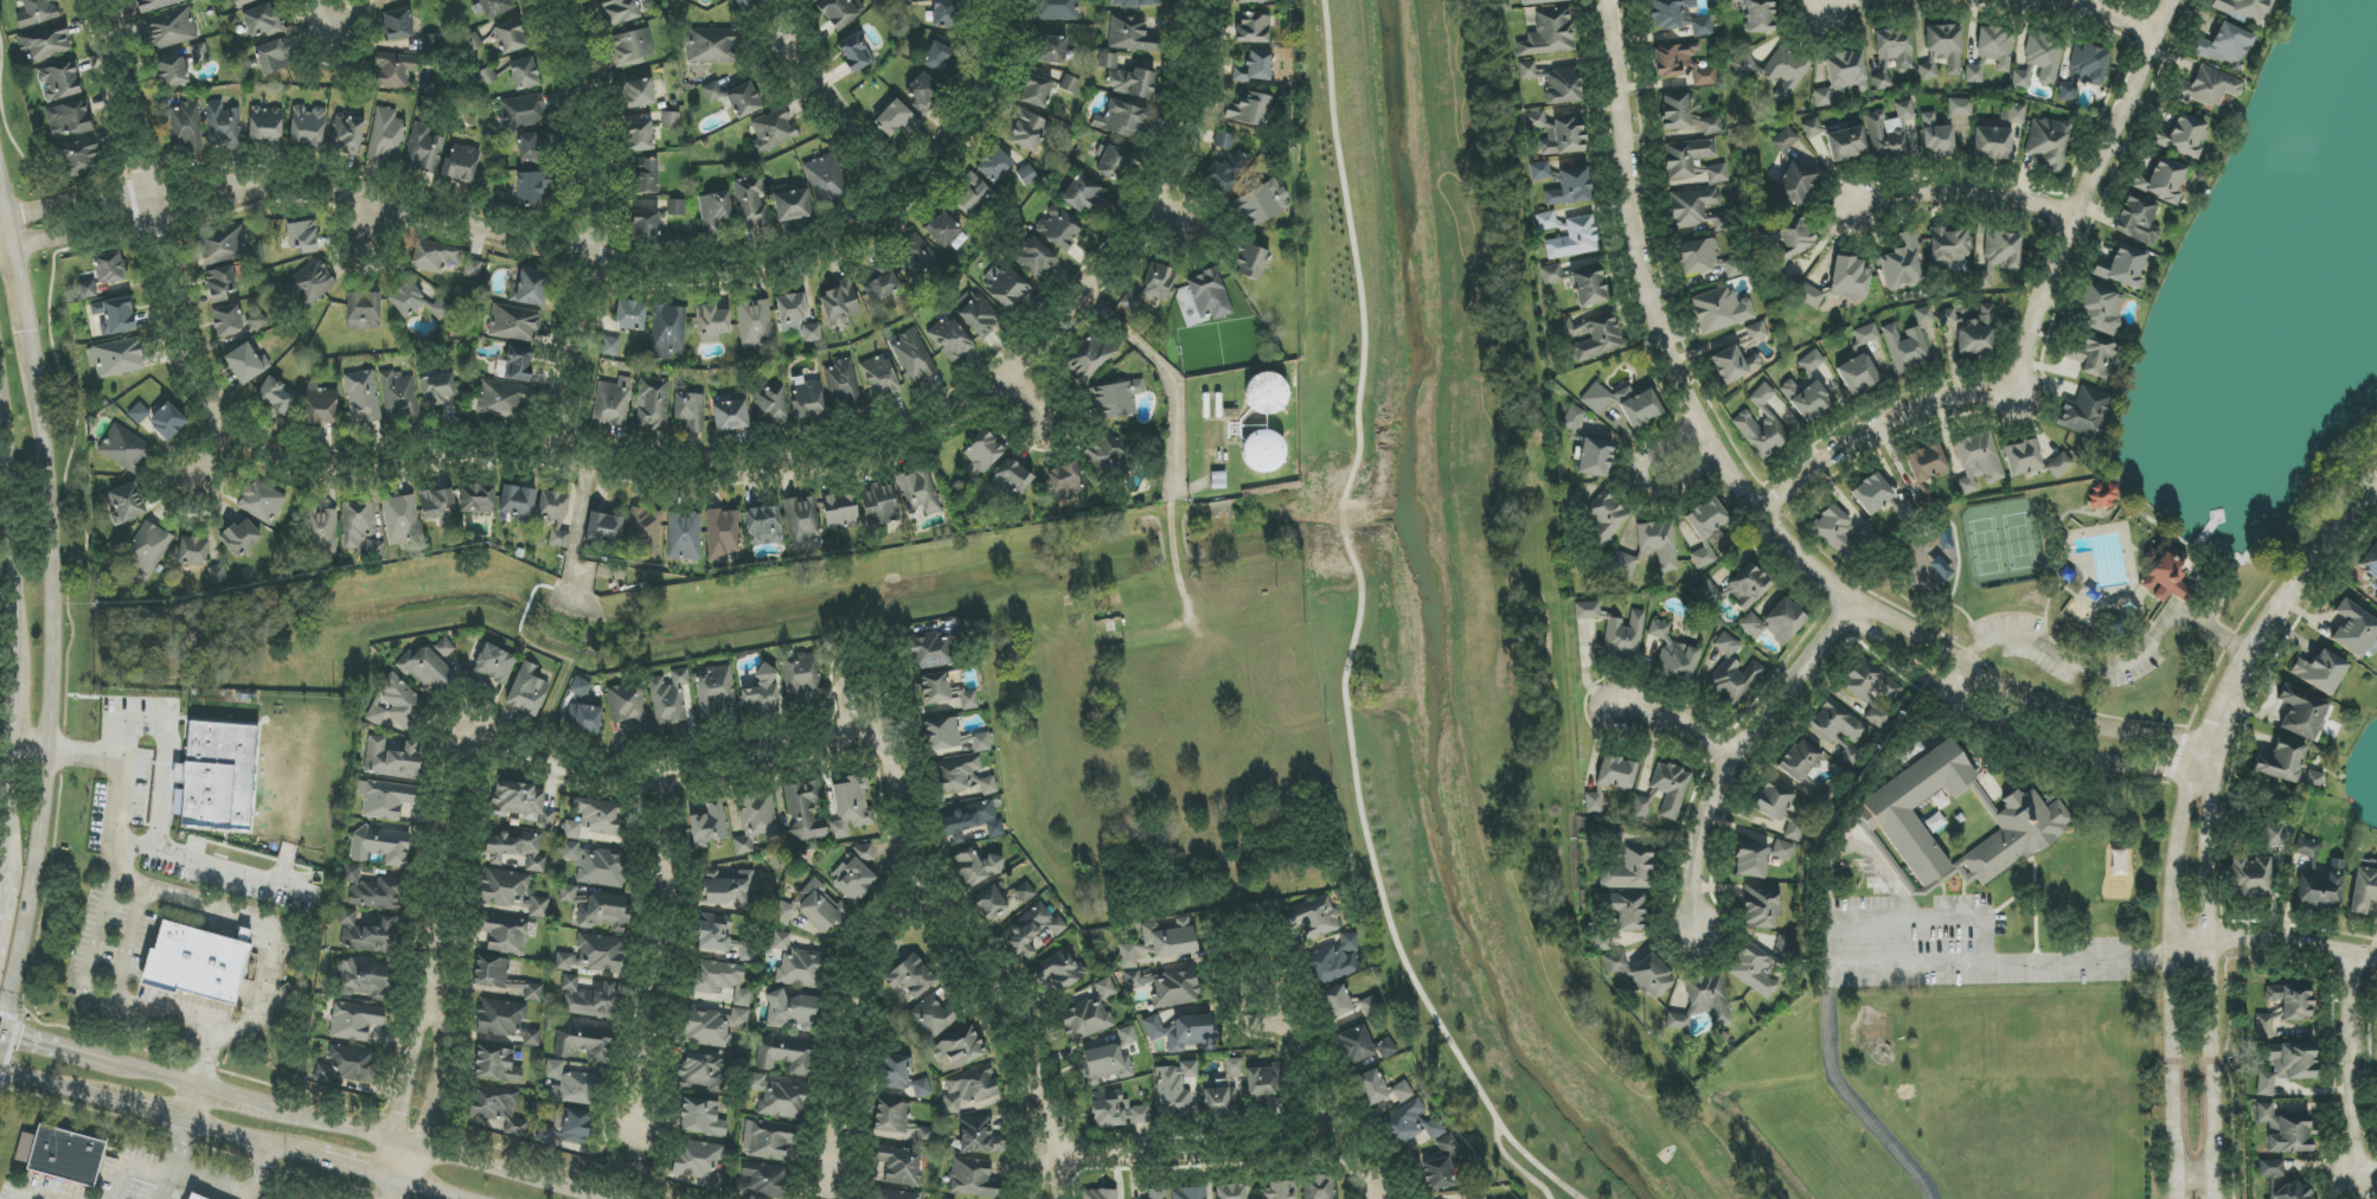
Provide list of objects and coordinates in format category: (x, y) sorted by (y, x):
building: (1254, 1)
building: (1540, 1)
road: (1837, 1)
building: (244, 2)
building: (382, 2)
building: (745, 4)
building: (1136, 4)
building: (158, 5)
building: (494, 7)
building: (1057, 9)
building: (2243, 9)
building: (617, 11)
building: (37, 12)
building: (838, 12)
road: (2099, 12)
building: (946, 13)
building: (1670, 13)
building: (1758, 15)
road: (310, 18)
building: (262, 21)
building: (397, 25)
building: (1702, 26)
building: (171, 28)
building: (1254, 28)
building: (1548, 32)
building: (1130, 34)
building: (511, 37)
building: (45, 41)
building: (431, 43)
building: (1050, 45)
building: (2225, 45)
building: (711, 46)
building: (632, 47)
building: (1895, 47)
building: (1942, 50)
building: (199, 52)
building: (856, 52)
building: (1991, 52)
building: (271, 57)
building: (940, 57)
building: (2044, 57)
building: (1674, 59)
building: (1107, 60)
building: (1255, 66)
building: (392, 70)
building: (1777, 70)
building: (2083, 70)
building: (173, 72)
building: (524, 73)
building: (1704, 76)
building: (1841, 77)
building: (2022, 78)
building: (58, 82)
building: (1132, 83)
building: (1555, 83)
building: (1070, 84)
building: (2206, 88)
building: (1037, 91)
building: (638, 92)
building: (923, 92)
building: (735, 97)
road: (818, 107)
building: (1959, 107)
building: (1249, 109)
building: (523, 111)
building: (1676, 111)
building: (2012, 114)
building: (69, 117)
building: (669, 120)
building: (896, 120)
building: (1121, 120)
building: (179, 121)
building: (265, 124)
building: (222, 126)
building: (307, 126)
building: (1710, 126)
building: (1812, 128)
building: (1959, 128)
building: (773, 129)
building: (1026, 130)
building: (1891, 132)
building: (347, 133)
building: (1557, 134)
building: (386, 135)
building: (639, 136)
building: (2183, 136)
building: (1936, 137)
building: (1224, 140)
building: (1785, 140)
building: (1846, 143)
building: (1992, 143)
building: (2049, 143)
building: (531, 147)
building: (423, 150)
building: (78, 159)
building: (461, 162)
building: (1111, 162)
building: (1692, 162)
building: (994, 165)
building: (1543, 172)
building: (1224, 174)
building: (643, 175)
building: (827, 179)
building: (2161, 180)
building: (1796, 182)
building: (532, 187)
road: (8, 188)
building: (1570, 188)
road: (1960, 188)
building: (969, 194)
building: (1084, 194)
building: (750, 203)
building: (1260, 204)
building: (792, 205)
building: (675, 207)
building: (1696, 209)
building: (713, 211)
road: (147, 216)
road: (1160, 216)
building: (2136, 219)
road: (373, 220)
road: (8, 222)
road: (596, 222)
building: (645, 226)
building: (942, 226)
building: (1059, 227)
building: (301, 236)
building: (1790, 236)
building: (1574, 238)
building: (219, 245)
road: (564, 249)
building: (1949, 249)
building: (434, 256)
building: (1034, 257)
building: (1697, 257)
building: (1998, 257)
building: (917, 259)
building: (1250, 262)
building: (1902, 263)
building: (2119, 264)
building: (109, 268)
building: (473, 268)
building: (1732, 268)
road: (25, 275)
building: (312, 281)
building: (1844, 281)
building: (1159, 282)
building: (220, 283)
building: (882, 283)
building: (1578, 283)
building: (1006, 287)
building: (530, 288)
building: (88, 289)
building: (1209, 295)
building: (406, 299)
building: (1132, 301)
building: (839, 302)
building: (440, 309)
building: (2099, 309)
building: (364, 310)
building: (1719, 310)
building: (792, 313)
building: (256, 314)
building: (975, 314)
building: (630, 315)
building: (1924, 315)
building: (115, 316)
building: (1947, 316)
building: (228, 320)
building: (514, 323)
building: (711, 323)
building: (755, 323)
road: (2036, 329)
building: (667, 331)
building: (1756, 332)
building: (812, 333)
building: (1976, 333)
road: (1659, 334)
building: (1866, 334)
building: (1590, 336)
building: (950, 339)
building: (610, 346)
building: (1905, 347)
building: (1089, 355)
building: (2091, 355)
building: (914, 357)
building: (116, 358)
building: (1811, 361)
building: (244, 364)
building: (518, 364)
building: (1734, 364)
road: (1161, 365)
building: (1857, 374)
building: (879, 377)
building: (845, 386)
building: (437, 389)
building: (398, 393)
building: (1266, 395)
building: (276, 396)
building: (363, 397)
road: (1011, 397)
building: (807, 398)
building: (1116, 399)
building: (1806, 399)
building: (502, 400)
building: (613, 402)
building: (1623, 403)
building: (652, 404)
building: (770, 406)
building: (321, 408)
building: (691, 412)
building: (2084, 412)
building: (139, 413)
building: (730, 416)
building: (167, 421)
building: (1761, 425)
road: (820, 443)
building: (124, 449)
building: (982, 451)
building: (1262, 451)
building: (1107, 457)
building: (1595, 457)
building: (2022, 457)
road: (190, 460)
building: (1927, 462)
building: (1978, 462)
building: (2059, 464)
building: (1011, 481)
building: (1065, 481)
road: (1641, 481)
road: (2375, 487)
building: (920, 493)
building: (1872, 493)
building: (2102, 496)
building: (476, 499)
building: (262, 501)
building: (518, 502)
building: (126, 504)
building: (435, 504)
building: (879, 504)
building: (840, 511)
building: (555, 515)
building: (401, 519)
building: (803, 524)
building: (357, 525)
building: (763, 525)
building: (604, 527)
building: (1705, 530)
building: (645, 531)
building: (1839, 531)
building: (723, 533)
building: (322, 536)
building: (684, 537)
building: (241, 538)
road: (58, 540)
building: (1659, 543)
building: (148, 549)
road: (1173, 549)
building: (374, 550)
building: (193, 551)
building: (1930, 563)
park: (1928, 564)
building: (1622, 565)
building: (217, 573)
building: (2166, 576)
building: (1748, 586)
building: (1708, 592)
building: (2376, 597)
road: (19, 598)
building: (1587, 610)
building: (1775, 622)
building: (962, 627)
road: (2268, 627)
building: (2351, 628)
road: (1357, 630)
building: (1623, 635)
building: (930, 652)
road: (2099, 667)
building: (492, 668)
building: (425, 671)
building: (1732, 672)
building: (2320, 672)
building: (801, 678)
building: (955, 684)
building: (527, 690)
building: (931, 690)
building: (1871, 690)
building: (713, 691)
road: (2022, 692)
building: (763, 693)
building: (668, 697)
building: (969, 700)
building: (396, 704)
building: (628, 706)
building: (583, 708)
building: (2301, 712)
road: (1676, 718)
building: (1835, 724)
road: (2008, 725)
building: (953, 738)
road: (33, 748)
road: (1739, 751)
road: (536, 757)
building: (392, 759)
building: (1799, 761)
building: (2281, 762)
building: (216, 775)
building: (963, 776)
building: (2314, 778)
building: (1610, 780)
building: (1668, 789)
road: (120, 795)
building: (385, 800)
building: (523, 803)
building: (851, 806)
building: (1777, 807)
building: (805, 810)
building: (1888, 814)
building: (594, 819)
building: (756, 820)
building: (970, 821)
building: (709, 823)
road: (156, 828)
building: (2277, 834)
building: (2014, 836)
road: (136, 846)
building: (383, 847)
road: (1854, 847)
building: (2306, 848)
building: (514, 851)
building: (1783, 851)
building: (1751, 860)
building: (596, 865)
building: (976, 867)
building: (1630, 870)
building: (854, 874)
building: (2249, 877)
building: (728, 887)
building: (2321, 887)
building: (371, 891)
building: (1026, 891)
building: (512, 892)
building: (2364, 892)
road: (39, 893)
building: (991, 900)
road: (213, 904)
building: (1760, 906)
building: (820, 908)
building: (595, 909)
building: (1623, 910)
building: (1313, 917)
road: (927, 919)
building: (1032, 931)
building: (715, 932)
building: (369, 934)
building: (505, 935)
building: (1160, 942)
road: (2275, 943)
building: (745, 950)
road: (647, 954)
building: (594, 955)
building: (196, 960)
building: (1334, 961)
building: (1761, 967)
road: (1877, 969)
building: (1058, 970)
building: (911, 976)
building: (500, 979)
building: (361, 980)
building: (720, 981)
road: (118, 987)
building: (1175, 988)
road: (2173, 993)
road: (2209, 994)
building: (589, 999)
building: (2290, 1000)
building: (1704, 1001)
building: (1335, 1002)
building: (1369, 1006)
building: (1089, 1014)
building: (935, 1015)
building: (354, 1021)
building: (505, 1022)
road: (246, 1026)
building: (2263, 1026)
building: (712, 1027)
road: (0, 1031)
traffic signals: (1, 1032)
building: (1183, 1032)
road: (845, 1033)
road: (0, 1034)
road: (12, 1041)
building: (584, 1043)
building: (1364, 1045)
building: (959, 1047)
road: (60, 1050)
building: (787, 1054)
building: (1111, 1057)
building: (496, 1065)
building: (2286, 1065)
building: (346, 1066)
road: (406, 1069)
building: (710, 1070)
road: (2352, 1072)
road: (1305, 1075)
road: (436, 1076)
building: (902, 1078)
road: (159, 1079)
building: (570, 1085)
building: (1371, 1088)
building: (969, 1089)
building: (1175, 1090)
building: (1224, 1091)
building: (1402, 1091)
road: (1847, 1096)
building: (784, 1101)
road: (92, 1102)
road: (231, 1102)
road: (192, 1109)
building: (1109, 1109)
building: (495, 1115)
building: (1140, 1115)
building: (890, 1116)
building: (701, 1117)
building: (1403, 1123)
building: (569, 1127)
building: (1434, 1128)
building: (2283, 1130)
road: (332, 1133)
building: (979, 1135)
building: (924, 1137)
building: (768, 1140)
road: (251, 1143)
road: (1193, 1153)
building: (60, 1155)
road: (172, 1162)
building: (700, 1162)
building: (1437, 1165)
road: (1517, 1165)
road: (397, 1167)
building: (896, 1167)
road: (355, 1171)
road: (262, 1173)
road: (1037, 1174)
road: (487, 1175)
road: (1057, 1175)
road: (2195, 1175)
building: (973, 1179)
road: (213, 1181)
building: (762, 1181)
building: (2281, 1181)
building: (1320, 1187)
road: (390, 1190)
road: (428, 1190)
building: (1280, 1191)
building: (1230, 1192)
building: (1158, 1193)
building: (1190, 1193)
building: (1098, 1194)
building: (901, 1195)
building: (191, 1197)
building: (1475, 1197)
building: (872, 1198)

